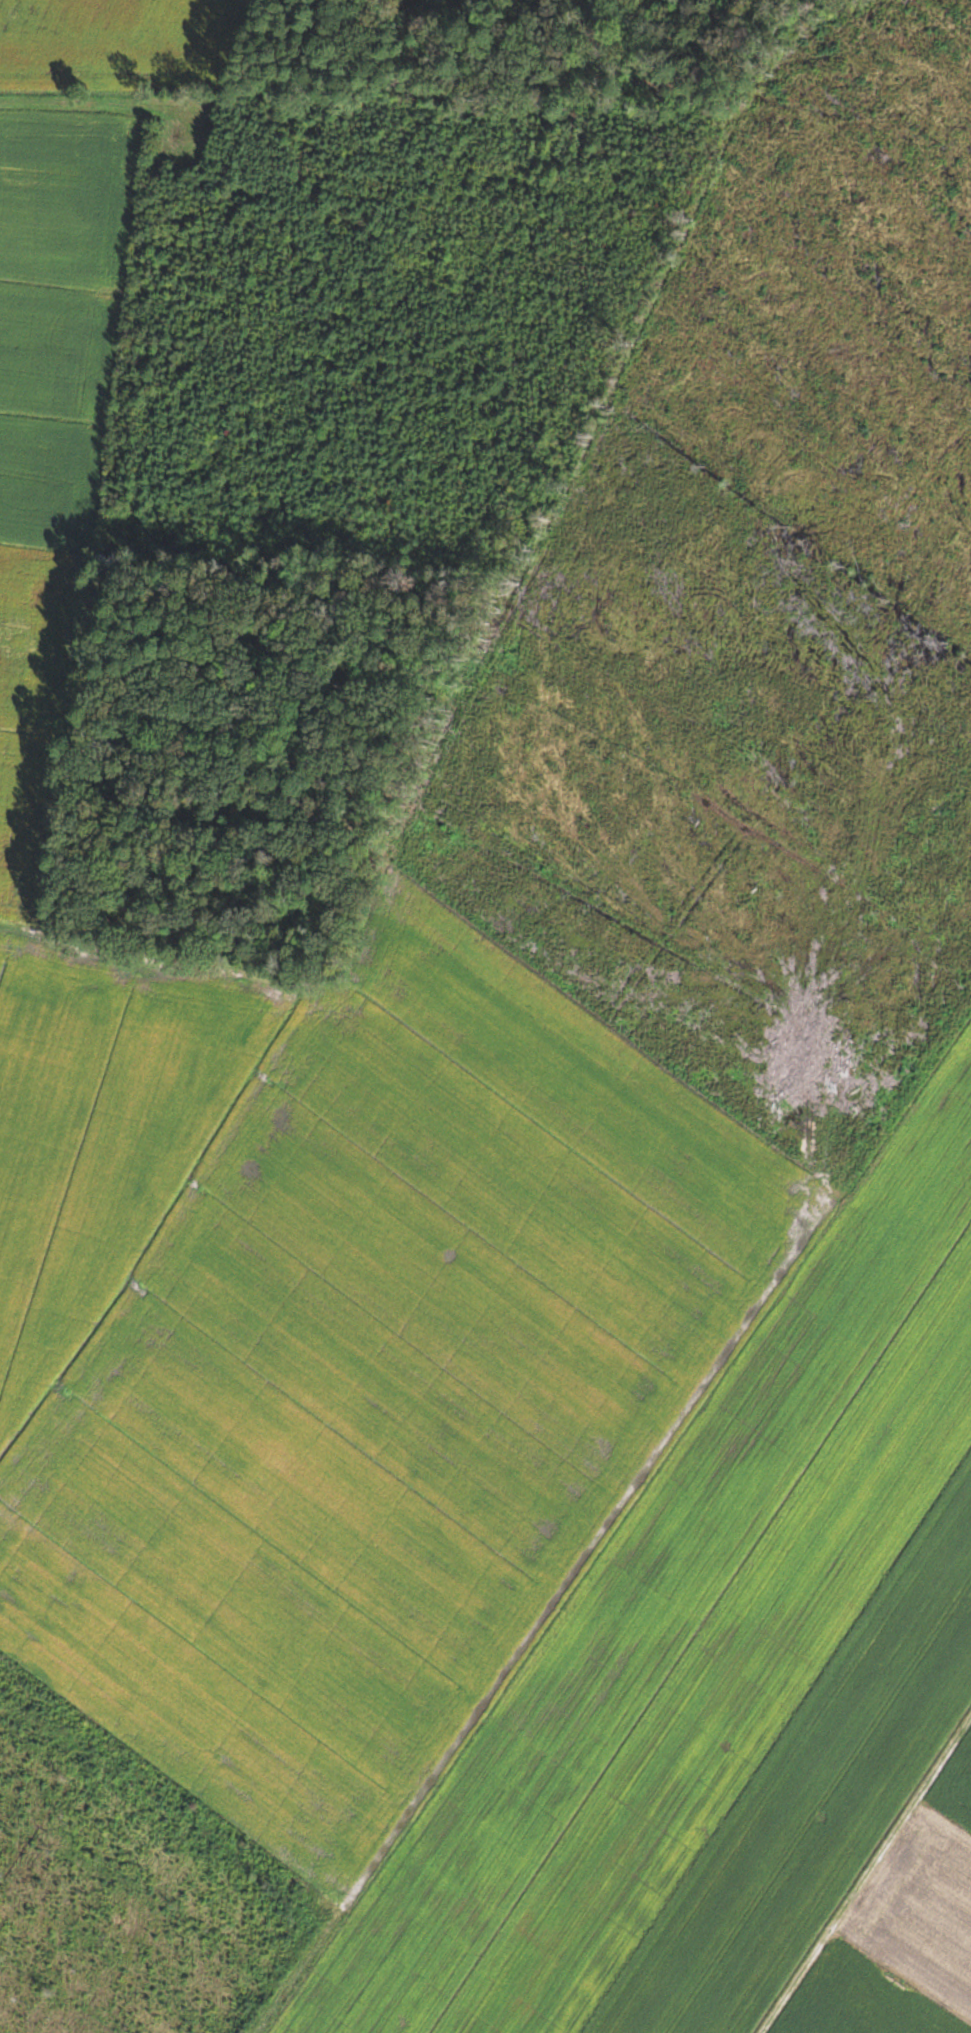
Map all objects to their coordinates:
road: (868, 1880)

